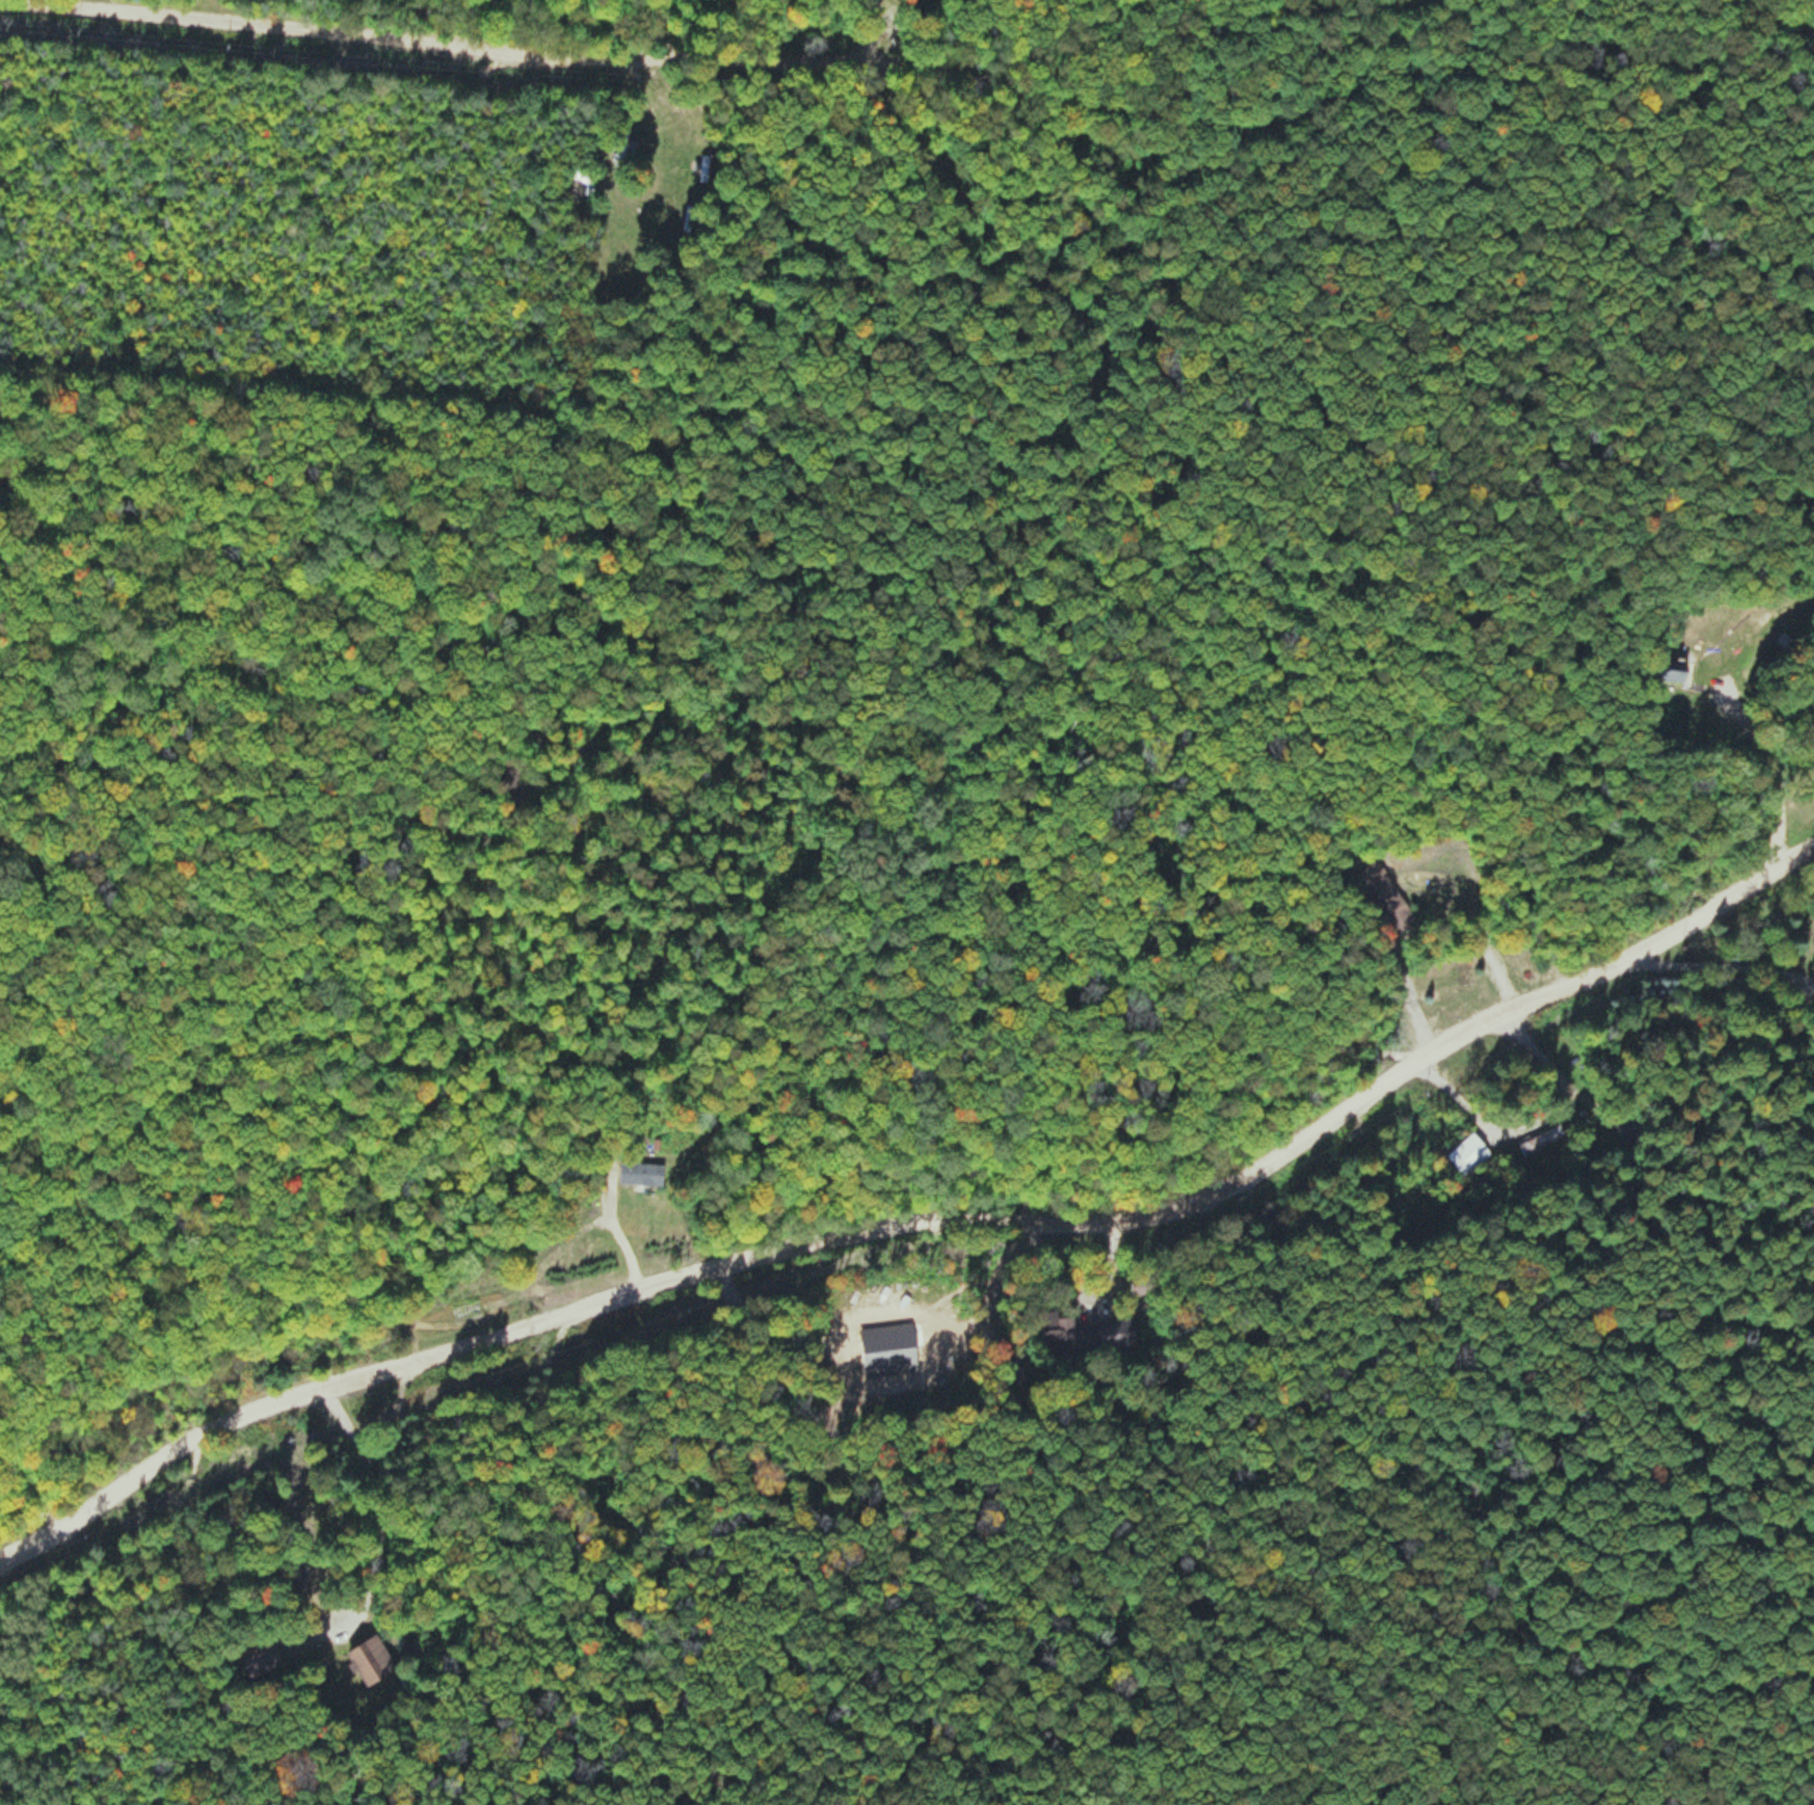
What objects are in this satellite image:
road: (1772, 20)
road: (765, 55)
building: (621, 144)
building: (585, 180)
building: (1672, 671)
building: (1384, 894)
building: (1539, 1140)
building: (640, 1173)
road: (921, 1214)
building: (1086, 1331)
building: (260, 1661)
building: (369, 1662)

